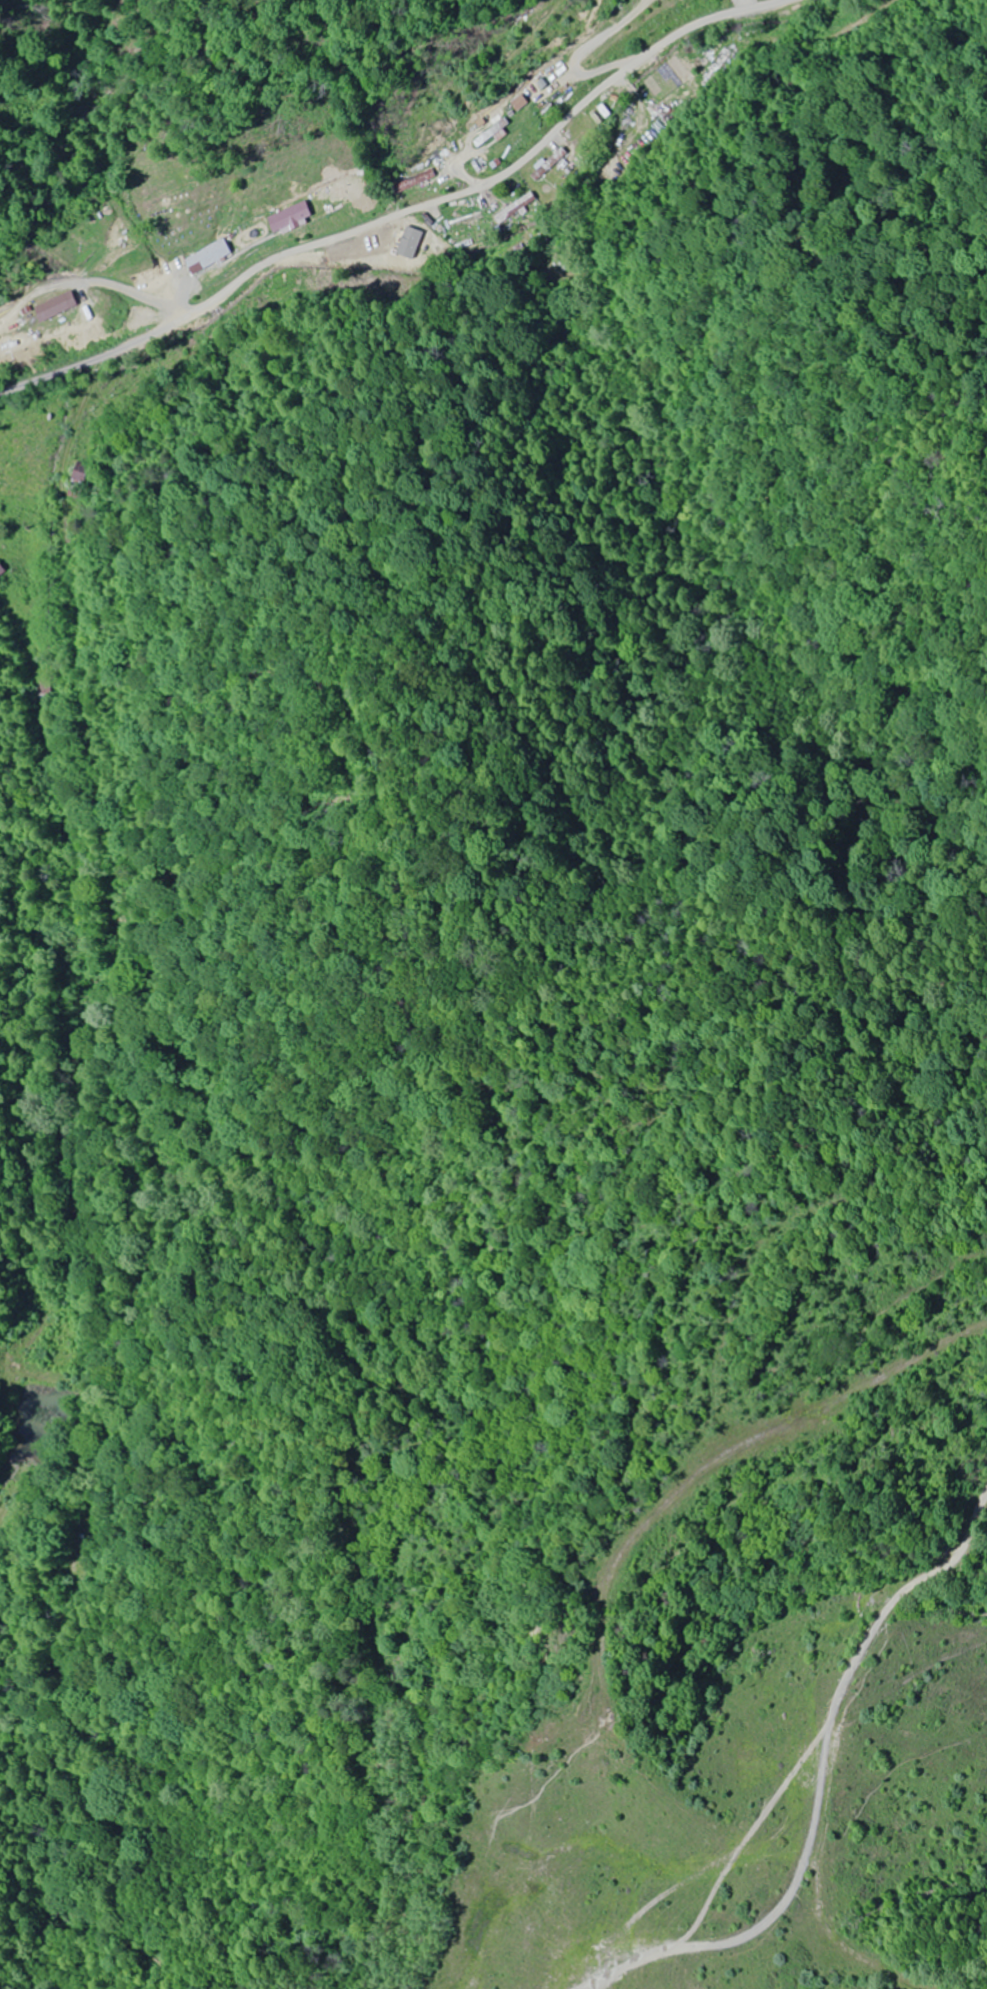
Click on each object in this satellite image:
building: (723, 69)
building: (516, 104)
building: (489, 134)
building: (475, 165)
building: (549, 165)
building: (410, 182)
building: (338, 191)
building: (515, 208)
building: (282, 216)
building: (465, 220)
road: (371, 223)
building: (387, 242)
building: (202, 257)
building: (67, 306)
building: (19, 342)
building: (4, 572)

